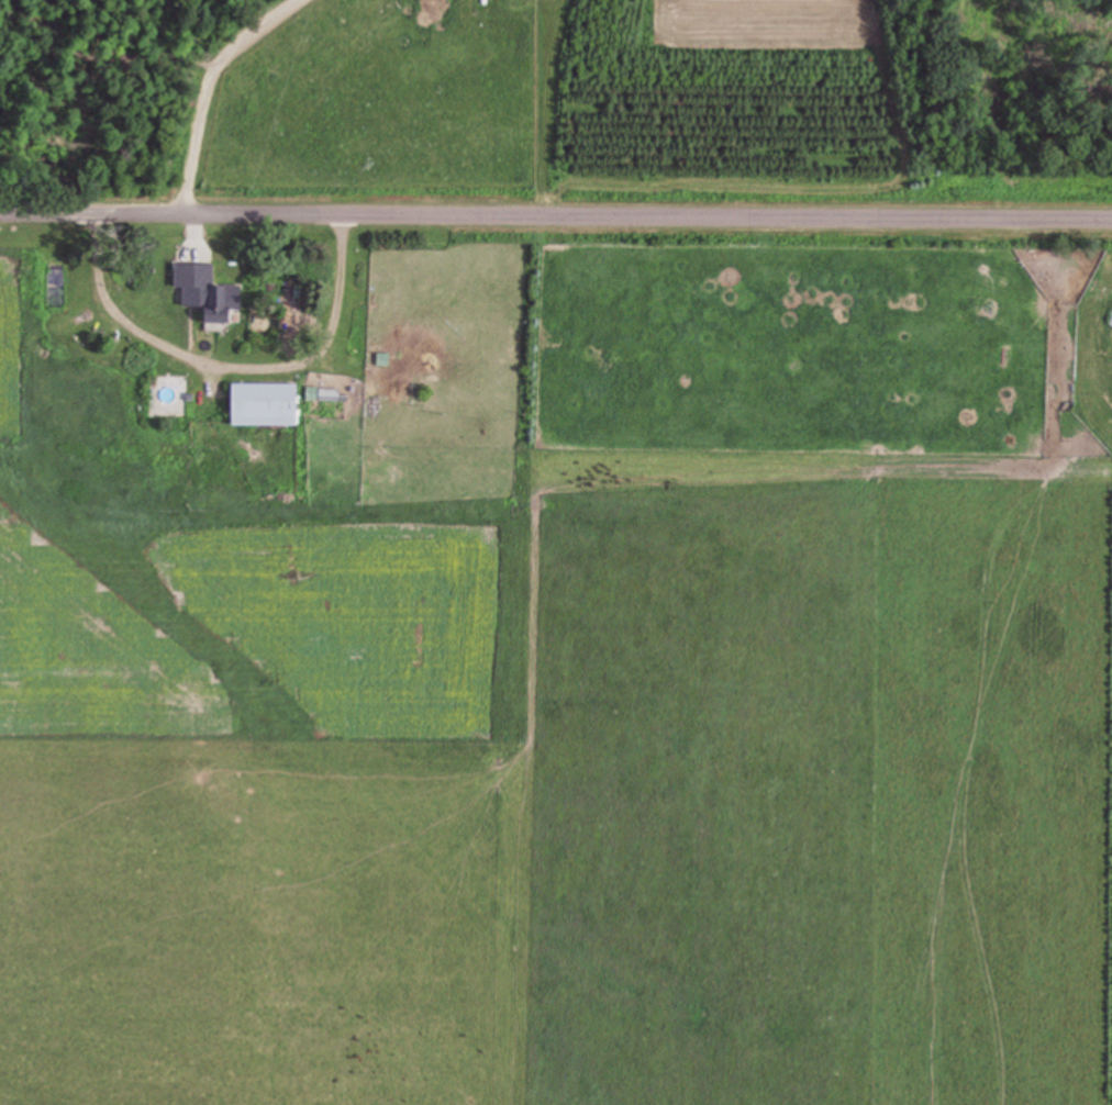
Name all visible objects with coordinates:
road: (556, 230)
building: (212, 294)
building: (170, 394)
building: (268, 403)

